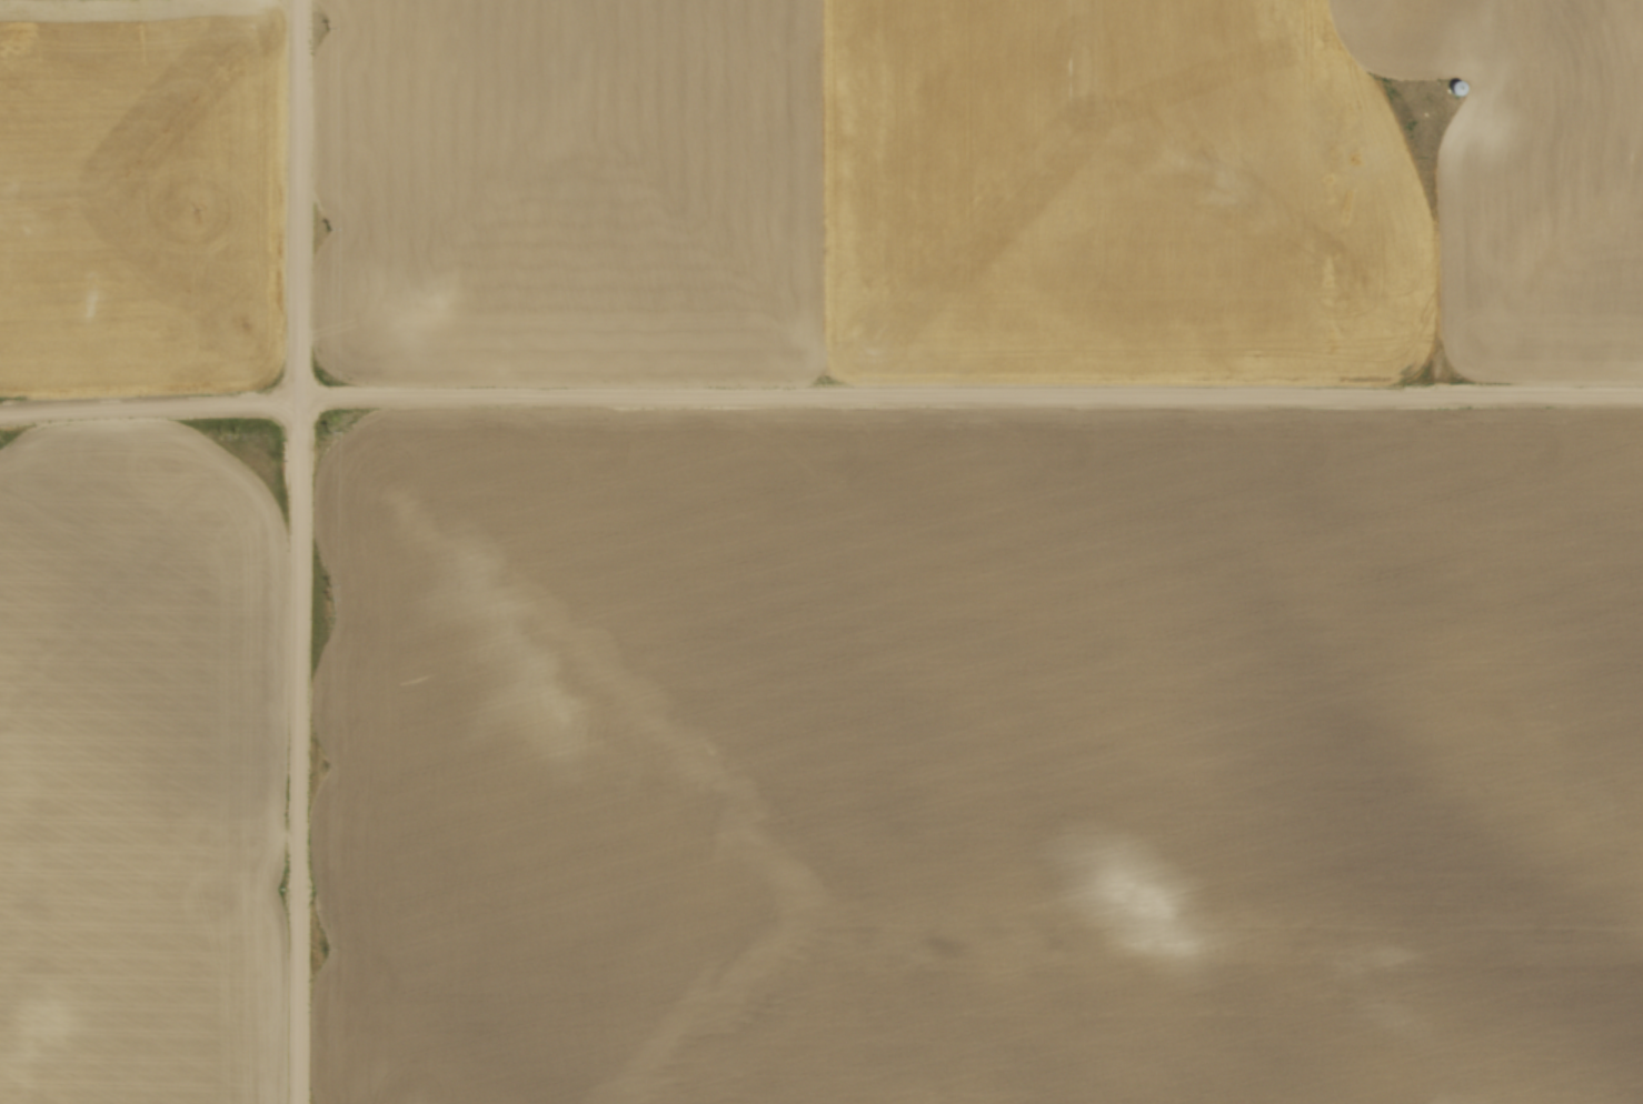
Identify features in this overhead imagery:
building: (1453, 87)
crop: (983, 188)
crop: (140, 193)
road: (820, 398)
road: (300, 551)
crop: (979, 757)
crop: (139, 773)

